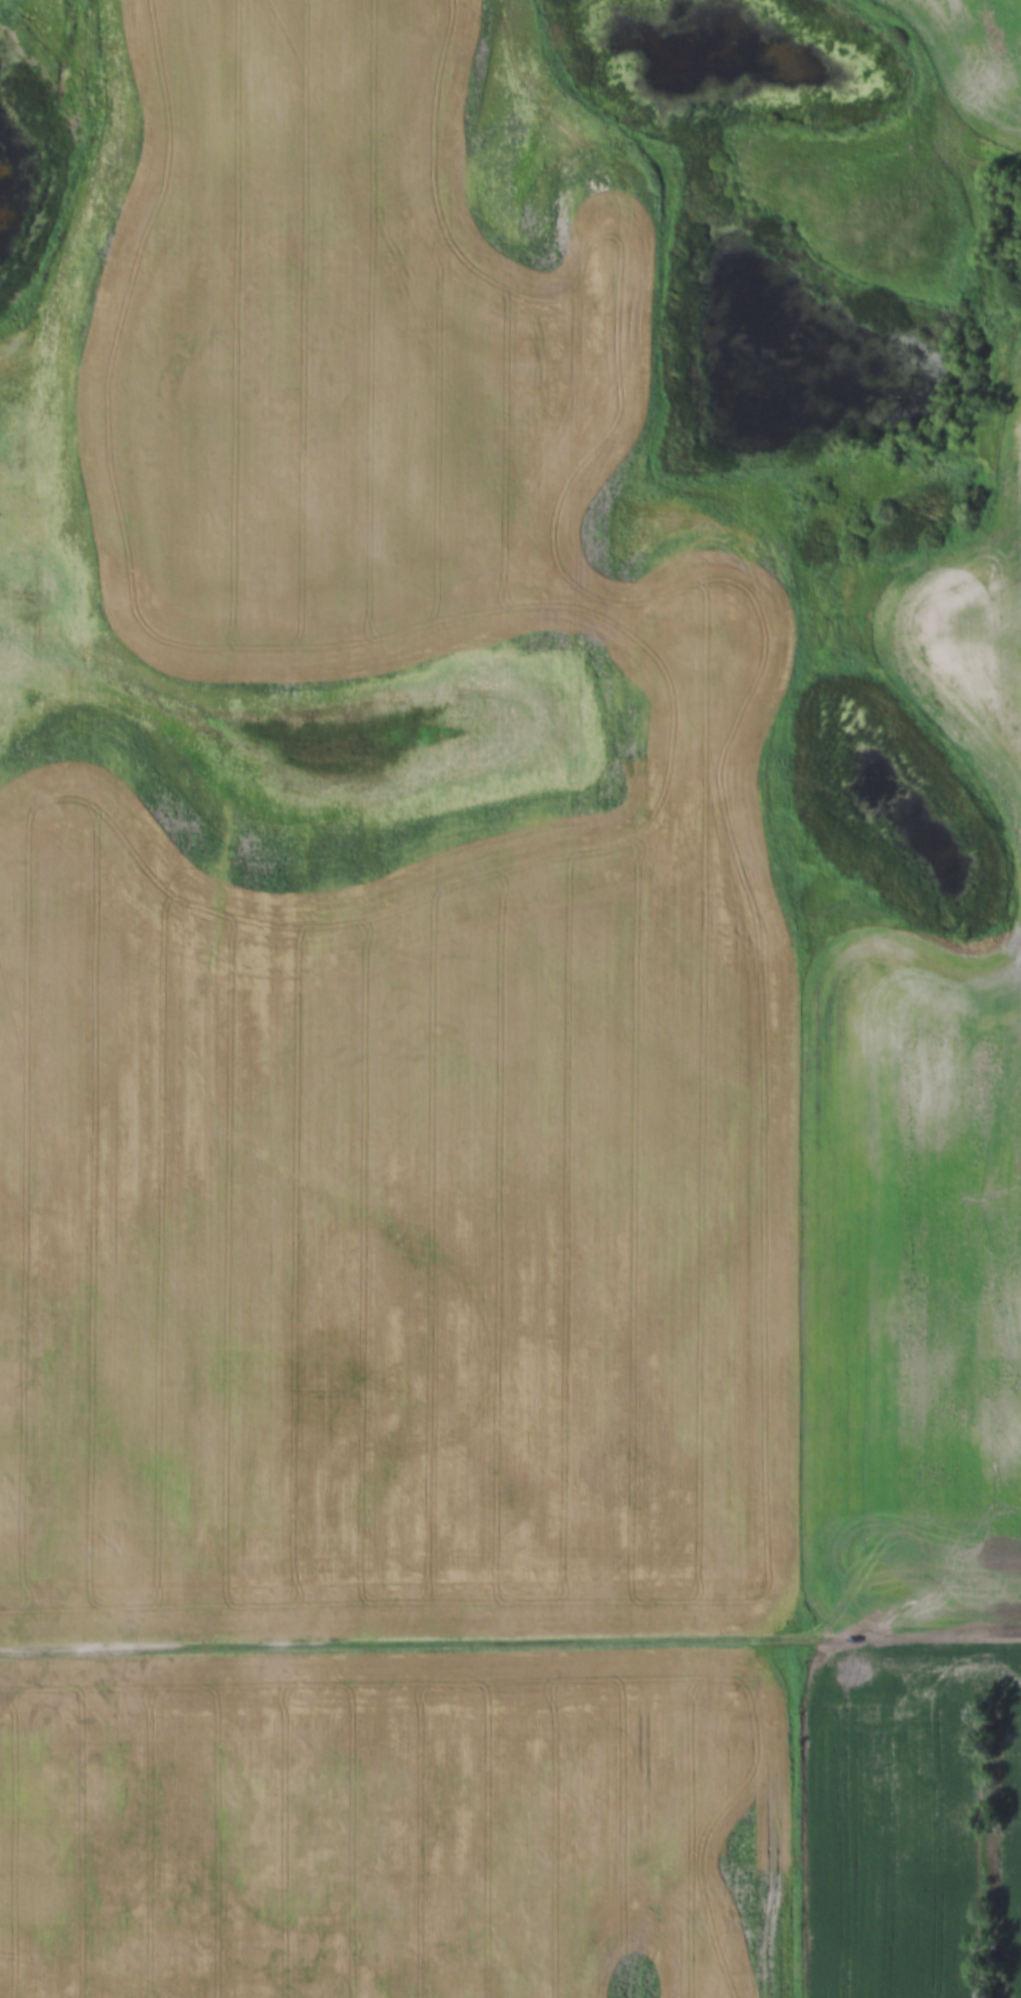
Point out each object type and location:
road: (510, 1642)

